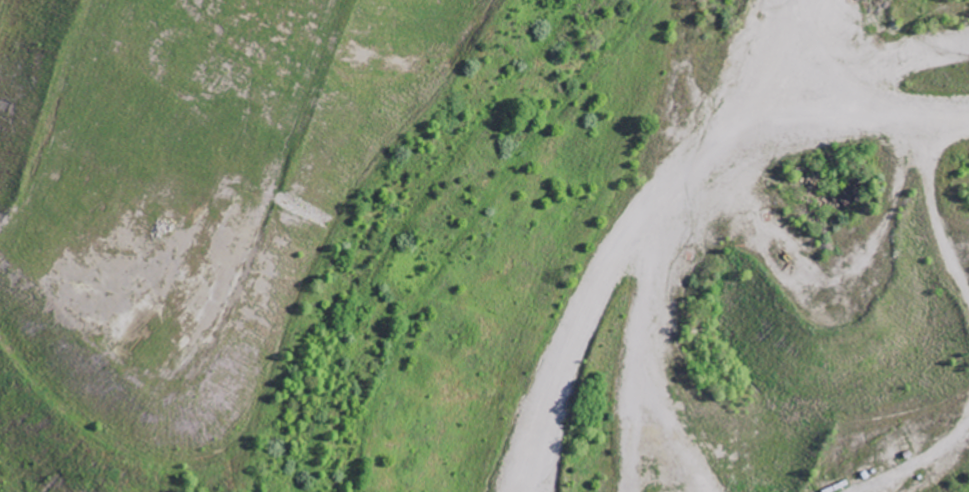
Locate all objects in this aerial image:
quarry: (818, 69)
road: (866, 134)
quarry: (173, 211)
road: (642, 238)

